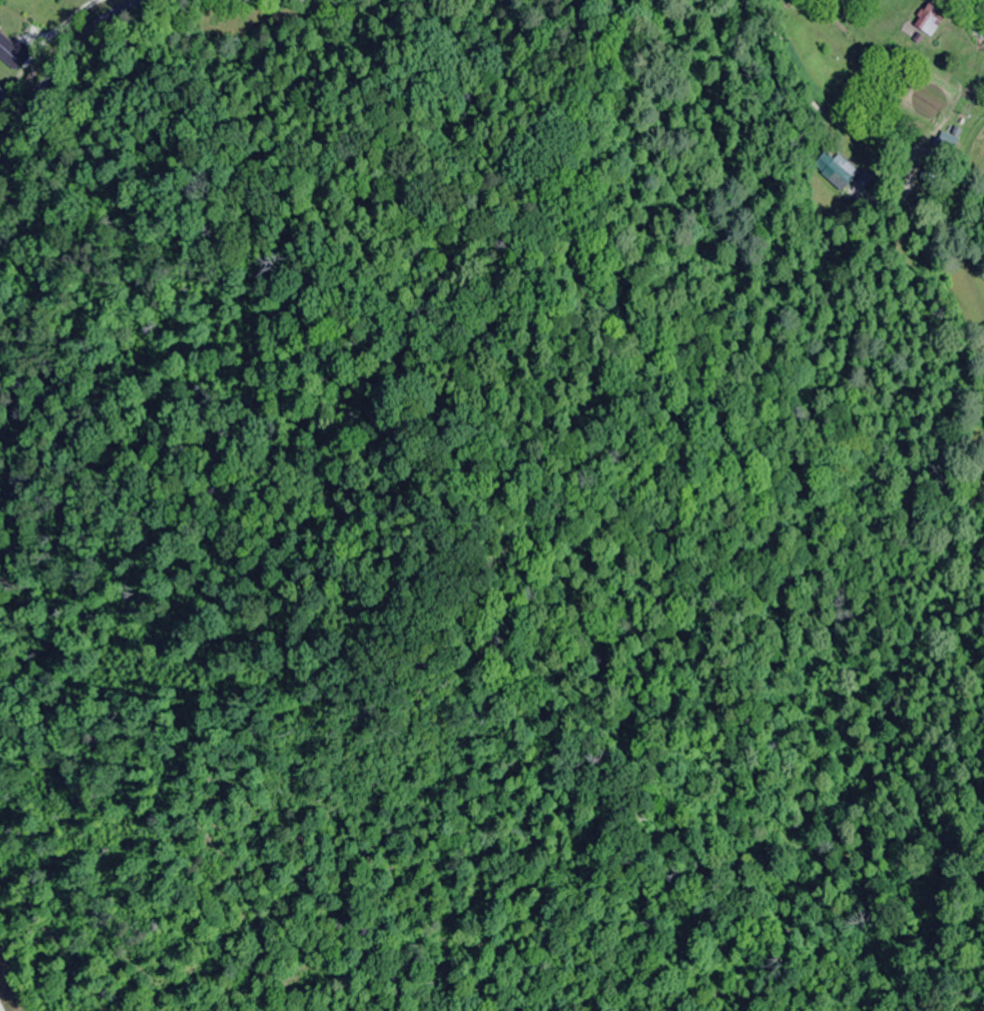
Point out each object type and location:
building: (932, 18)
building: (10, 51)
road: (64, 58)
building: (2, 93)
building: (840, 172)

